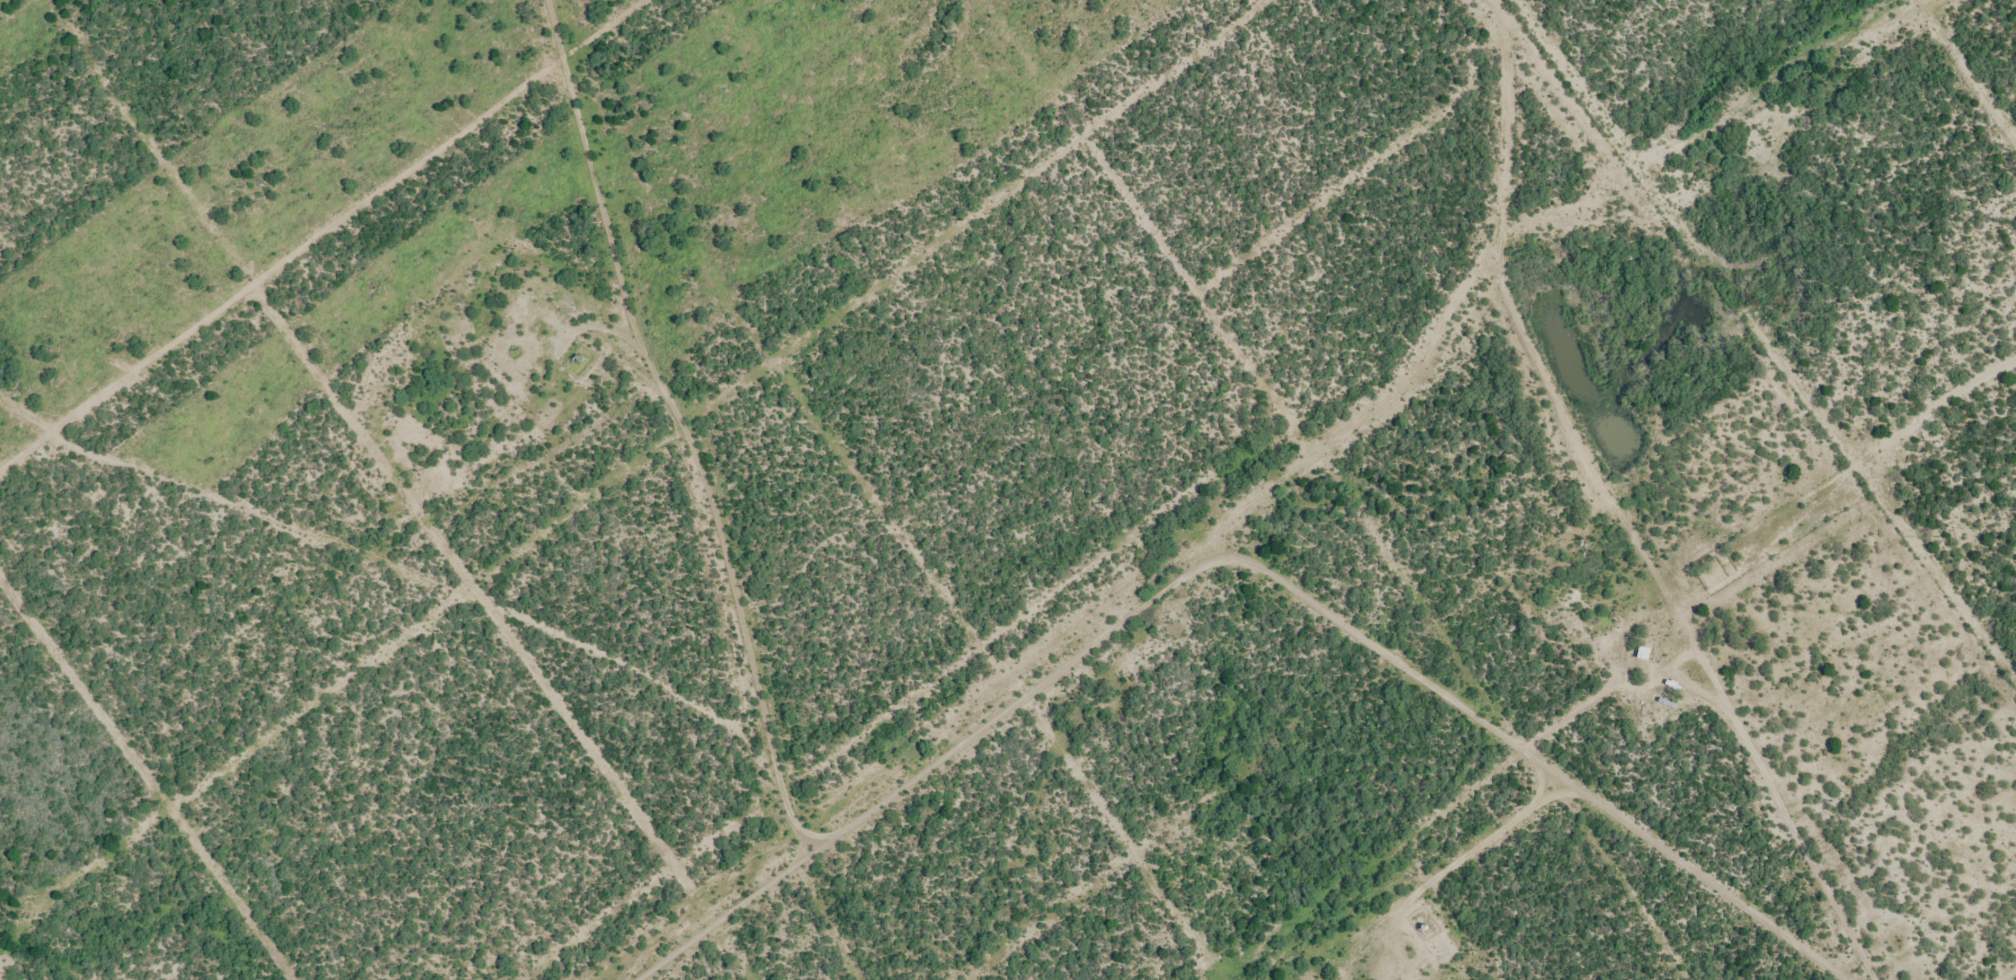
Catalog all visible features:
building: (1645, 654)

